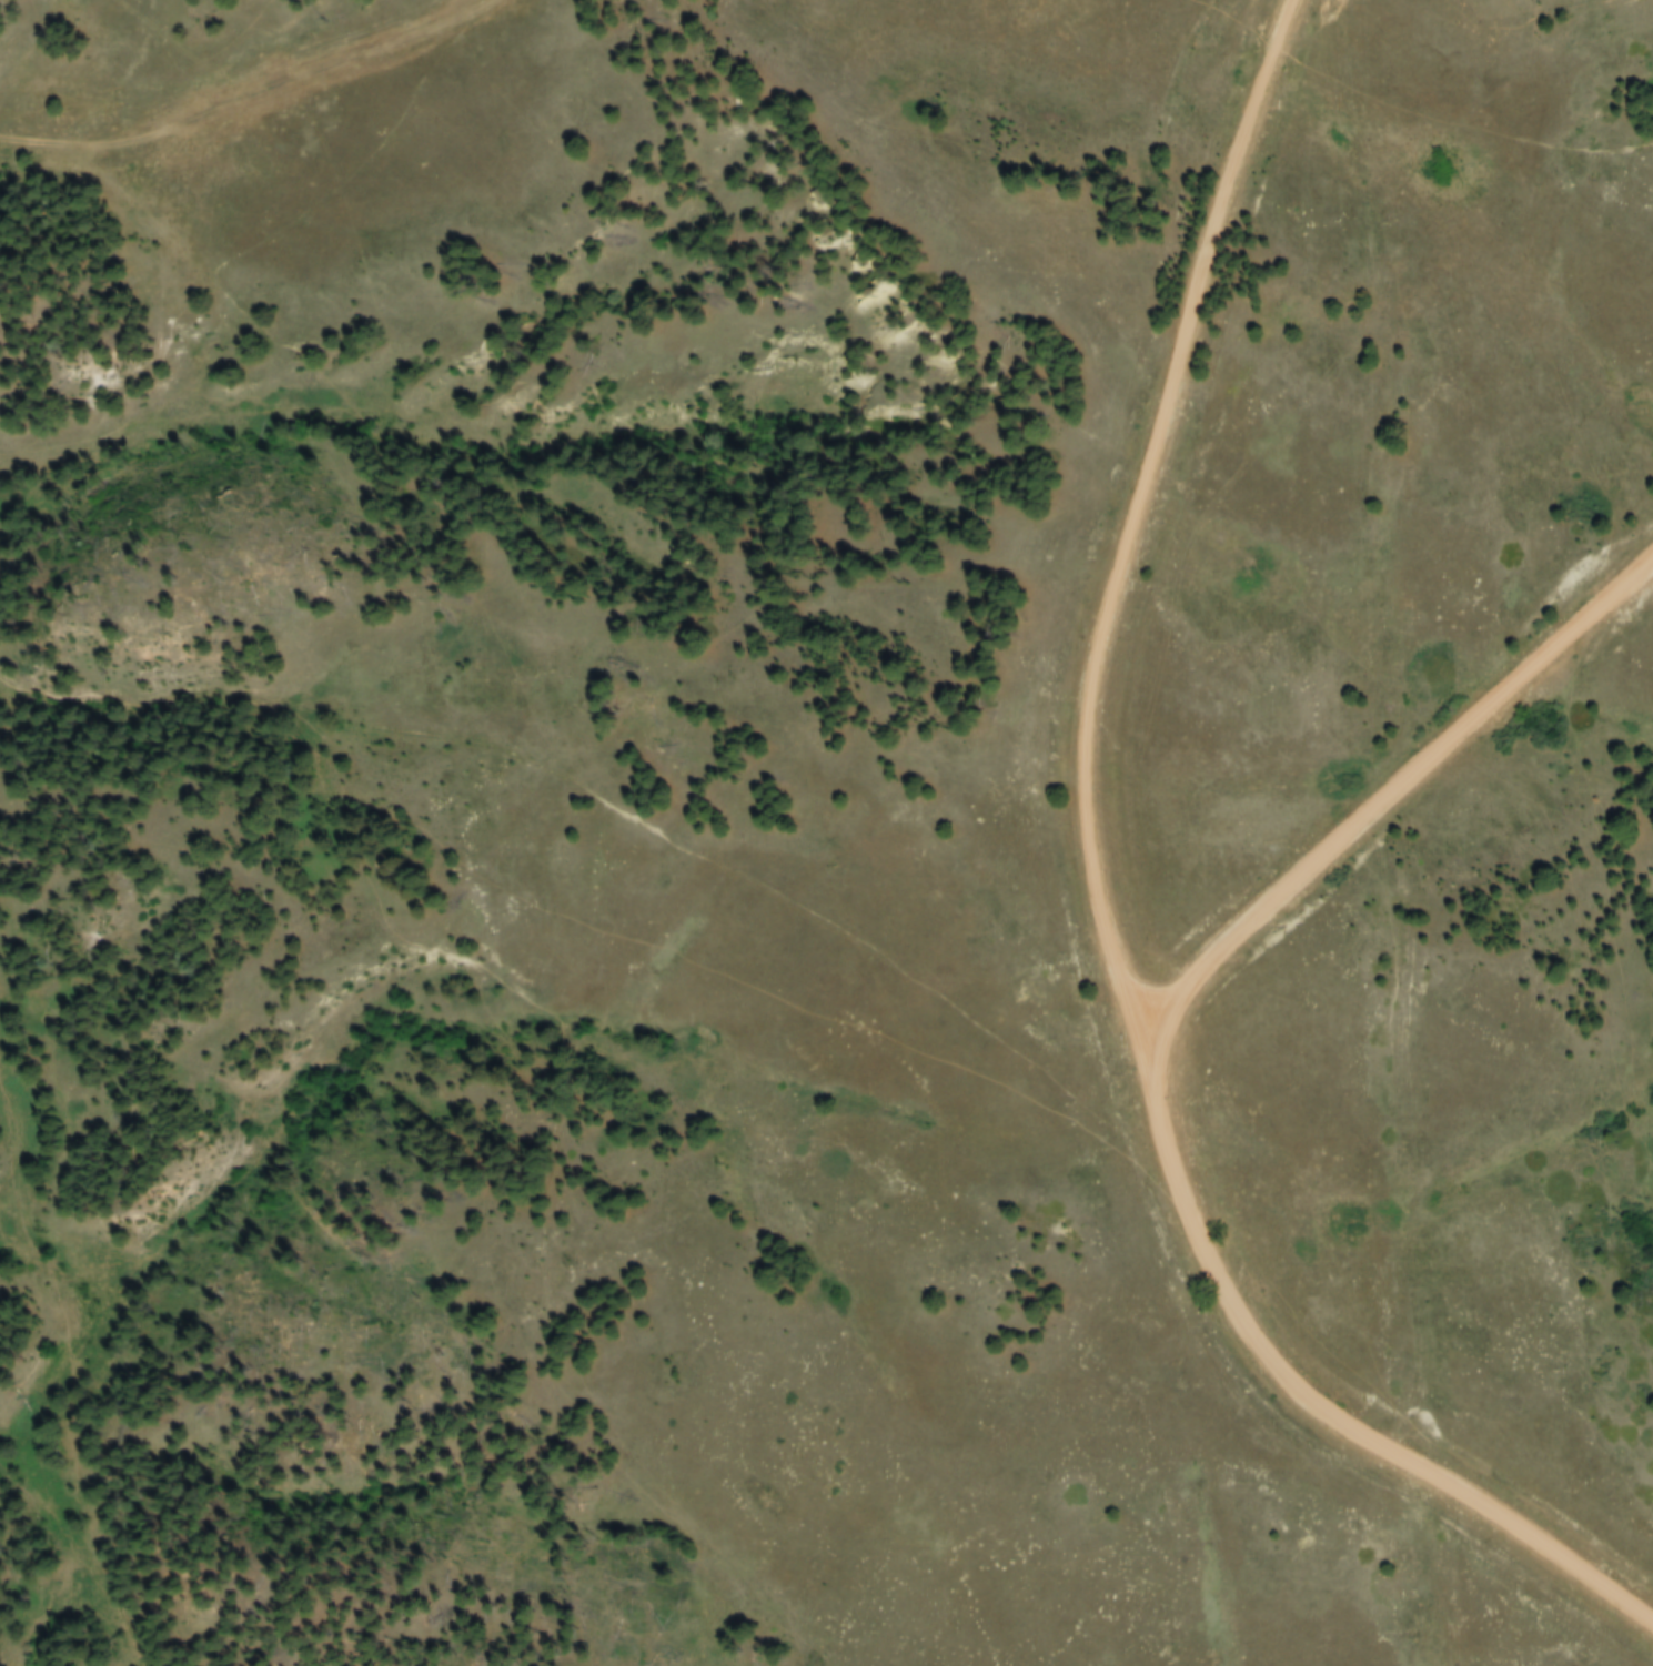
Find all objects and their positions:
road: (1139, 508)
road: (1395, 787)
road: (1306, 1395)

